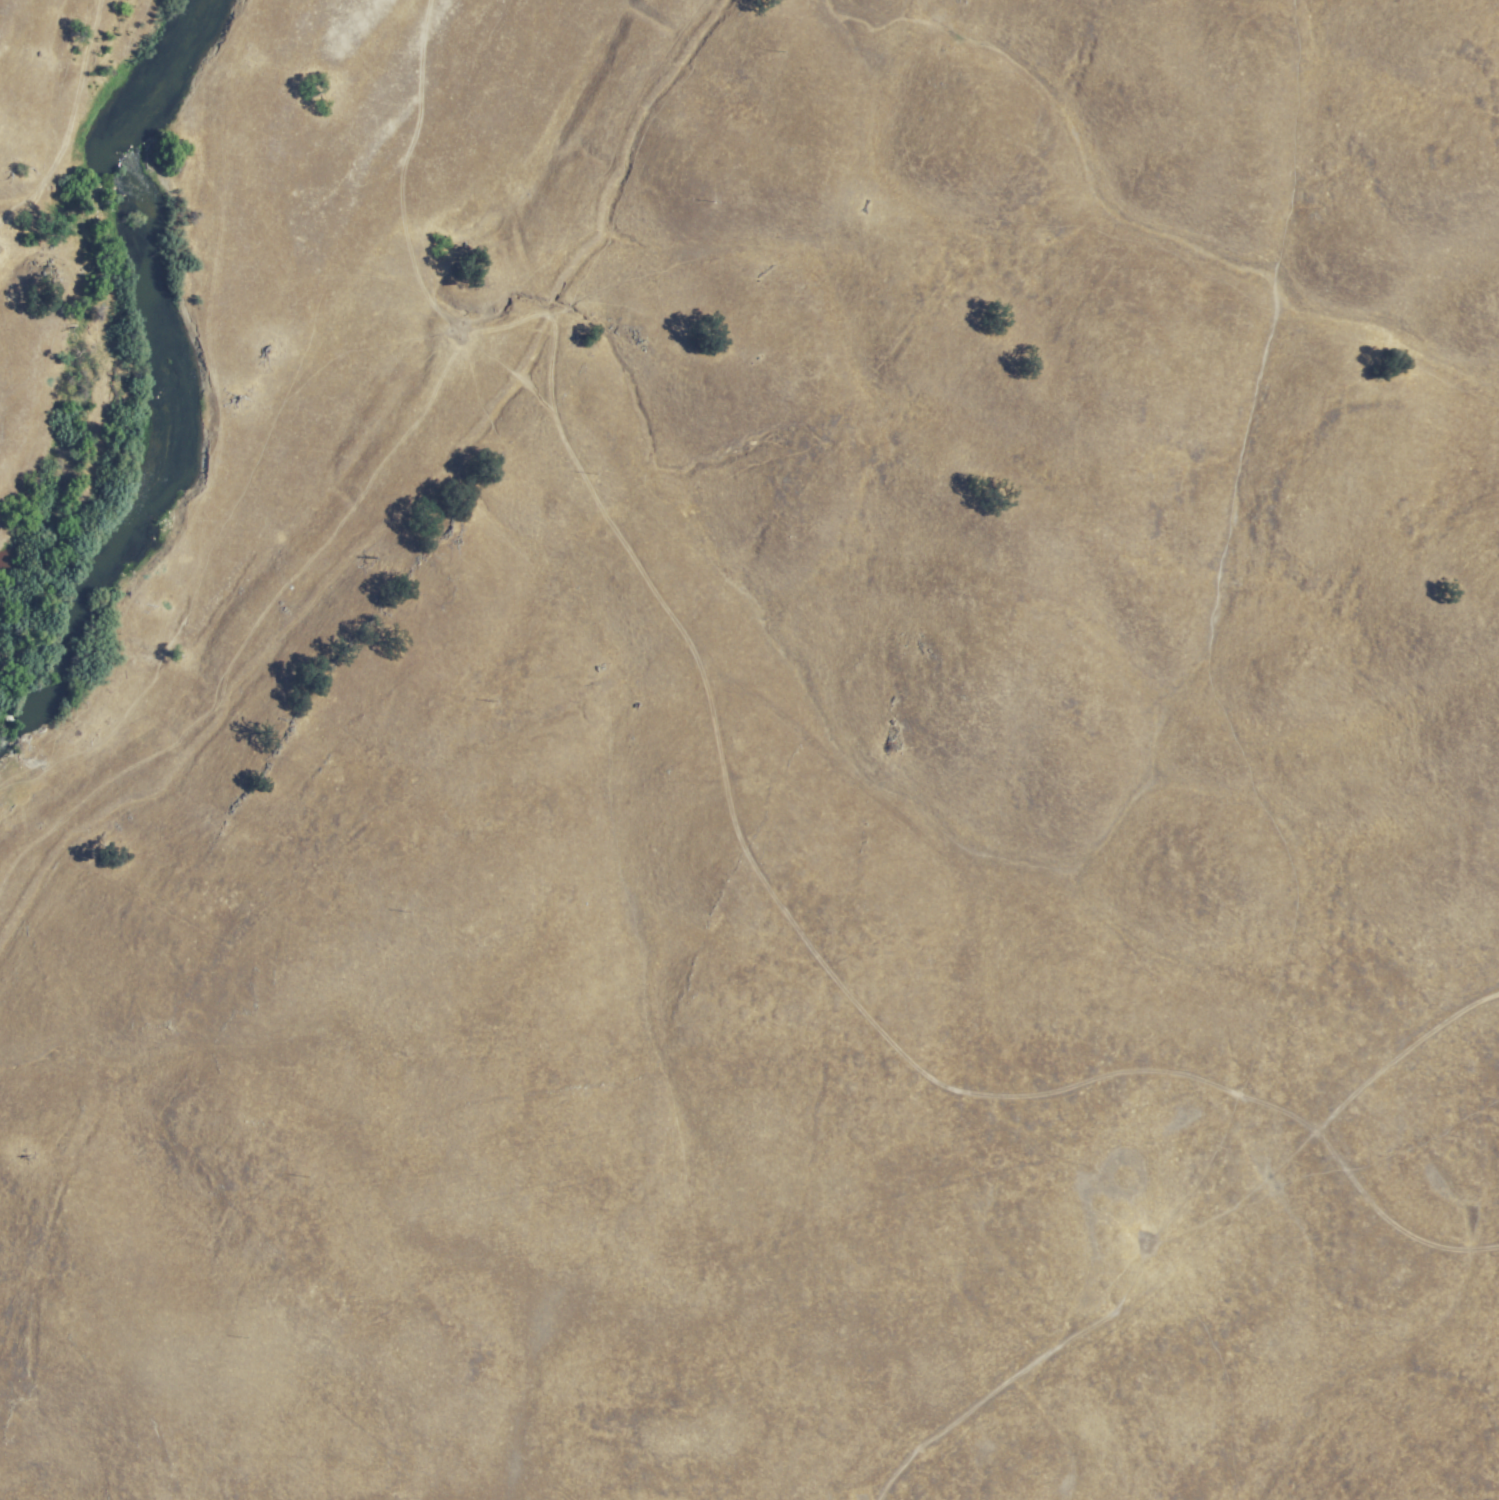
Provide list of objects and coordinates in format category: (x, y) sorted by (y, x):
river: (158, 369)

